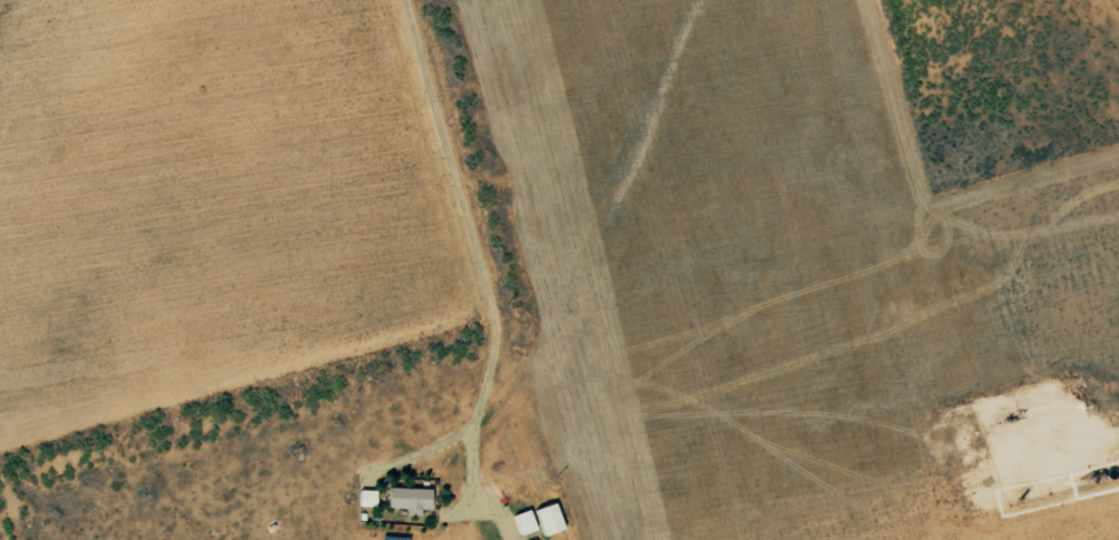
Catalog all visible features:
road: (941, 482)
building: (549, 519)
building: (524, 522)
building: (533, 539)

